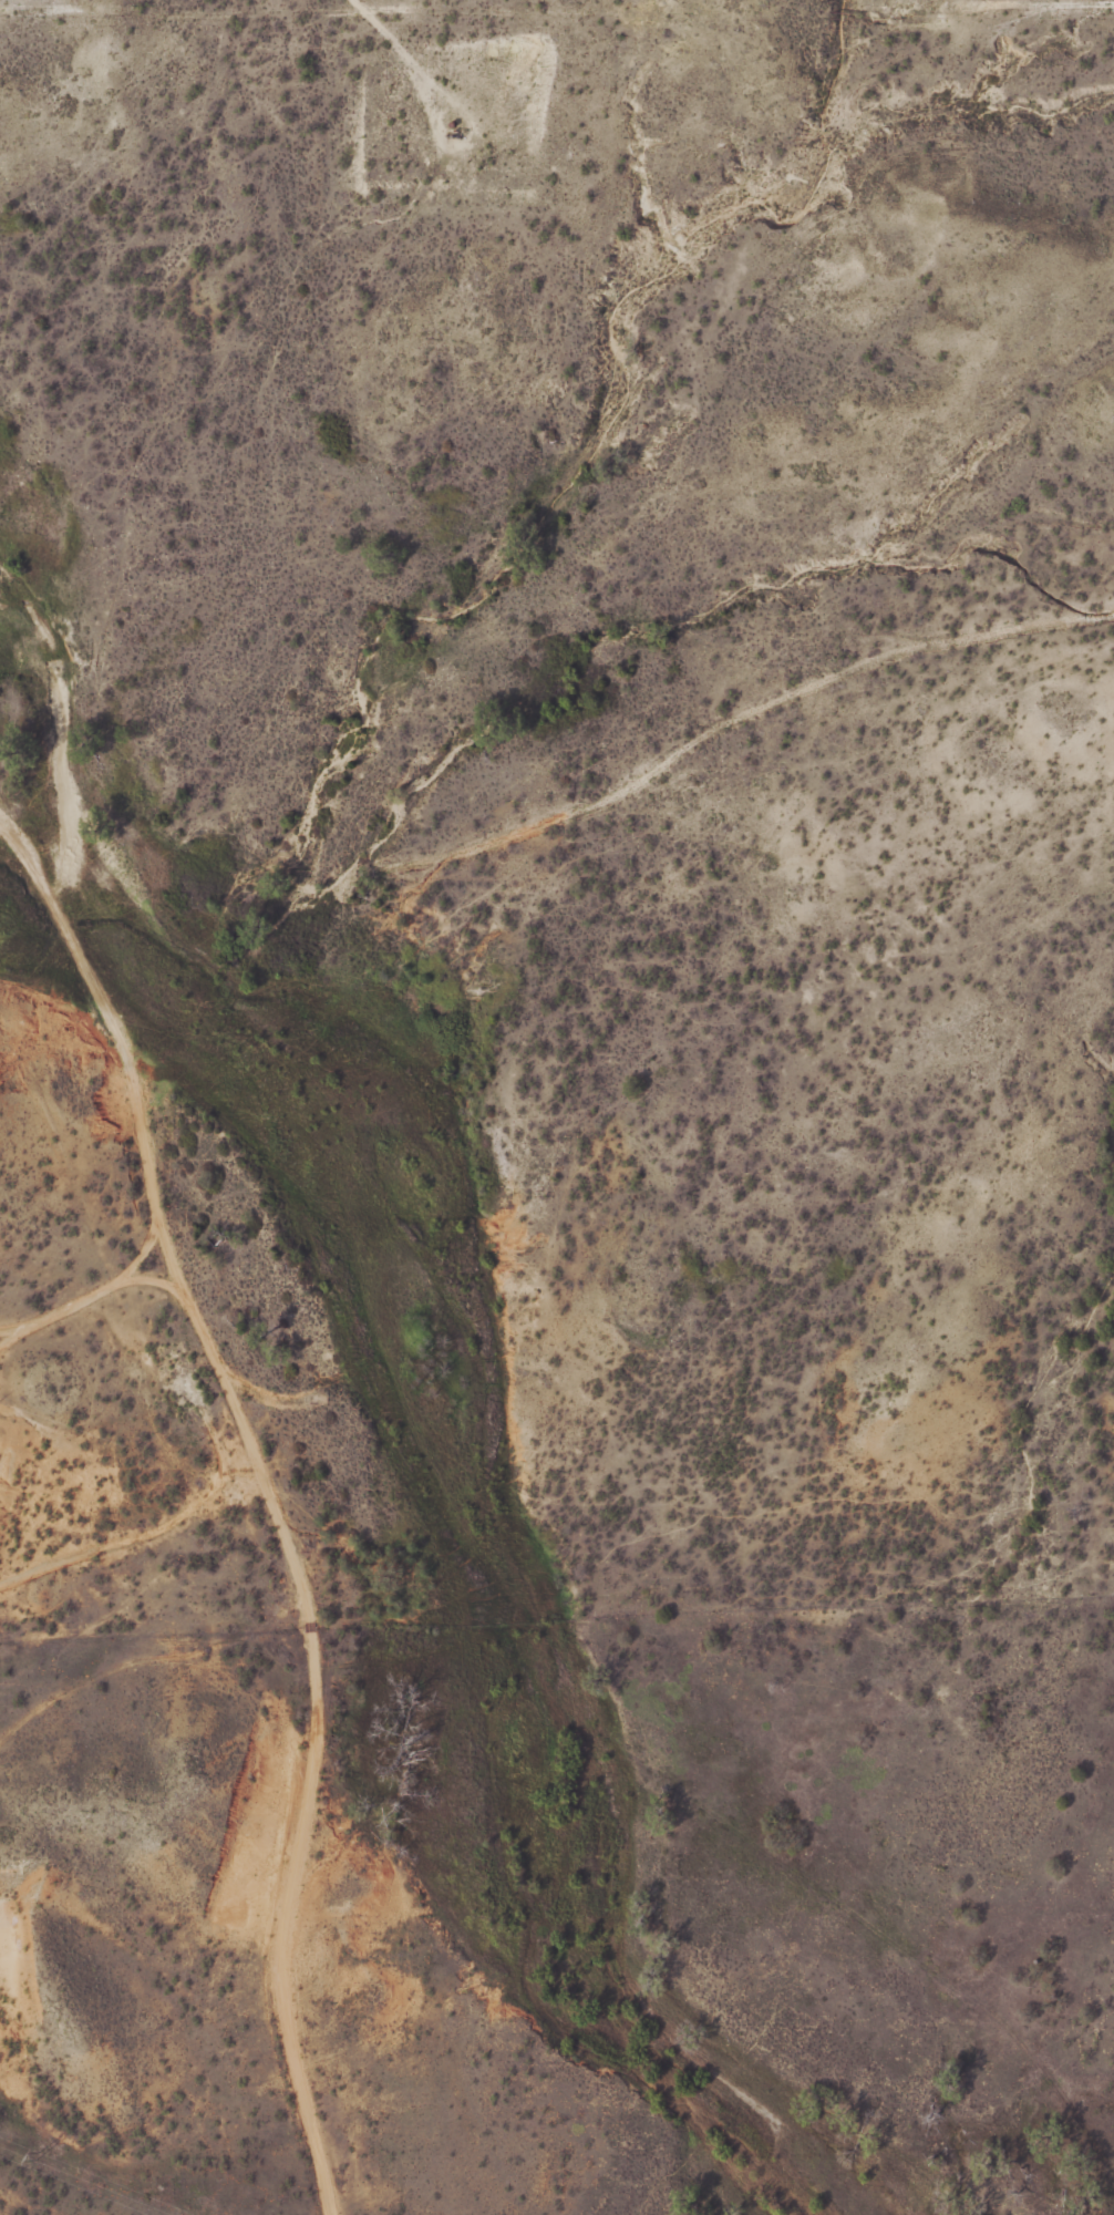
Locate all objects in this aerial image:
power tower: (37, 2156)

